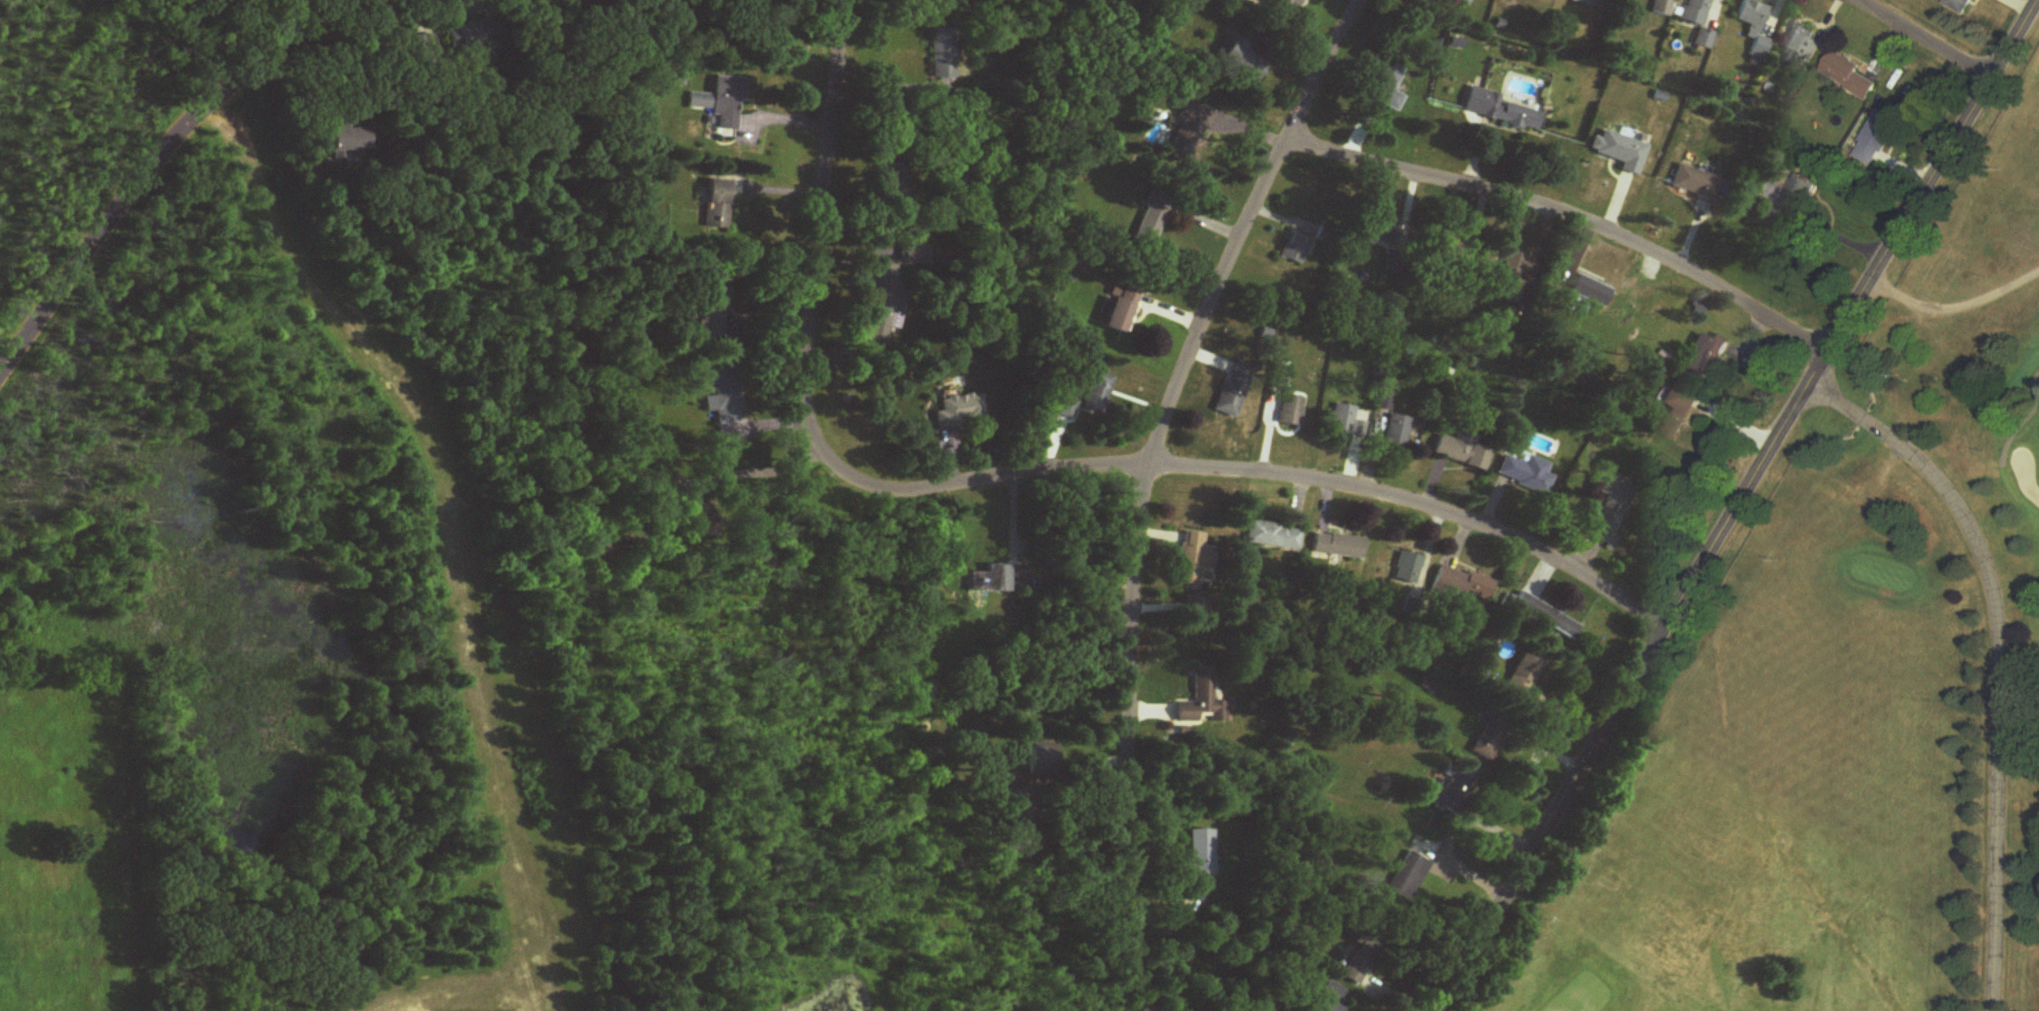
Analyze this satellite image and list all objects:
building: (747, 1)
building: (1463, 2)
building: (1581, 2)
building: (1287, 5)
building: (1961, 6)
building: (1661, 7)
building: (1698, 21)
building: (1756, 26)
building: (470, 34)
road: (1924, 39)
building: (1801, 46)
building: (944, 54)
building: (1243, 58)
building: (1848, 76)
building: (1380, 91)
building: (716, 108)
road: (781, 110)
building: (1510, 117)
building: (1192, 137)
building: (1877, 139)
building: (349, 141)
building: (1620, 152)
road: (155, 159)
building: (893, 181)
building: (1694, 184)
building: (1810, 189)
building: (716, 207)
road: (1570, 219)
building: (1150, 222)
building: (1382, 236)
building: (1452, 246)
building: (1294, 249)
building: (1512, 278)
building: (1120, 310)
building: (711, 311)
building: (883, 316)
building: (1703, 358)
building: (1234, 390)
building: (1097, 393)
building: (721, 394)
building: (1383, 402)
building: (1067, 409)
building: (1679, 409)
building: (960, 412)
building: (1291, 412)
building: (1345, 423)
building: (1396, 431)
building: (1461, 451)
road: (762, 463)
road: (1025, 471)
building: (1526, 475)
road: (1141, 482)
road: (1736, 506)
building: (699, 518)
building: (1273, 537)
building: (1338, 546)
building: (1193, 562)
building: (1407, 570)
building: (995, 581)
building: (1464, 585)
building: (1547, 616)
road: (2001, 657)
building: (1524, 676)
park: (1850, 692)
building: (1198, 698)
building: (1488, 739)
building: (1042, 760)
building: (1454, 785)
road: (1449, 830)
building: (1201, 853)
building: (1406, 878)
building: (1361, 958)
building: (1328, 998)

